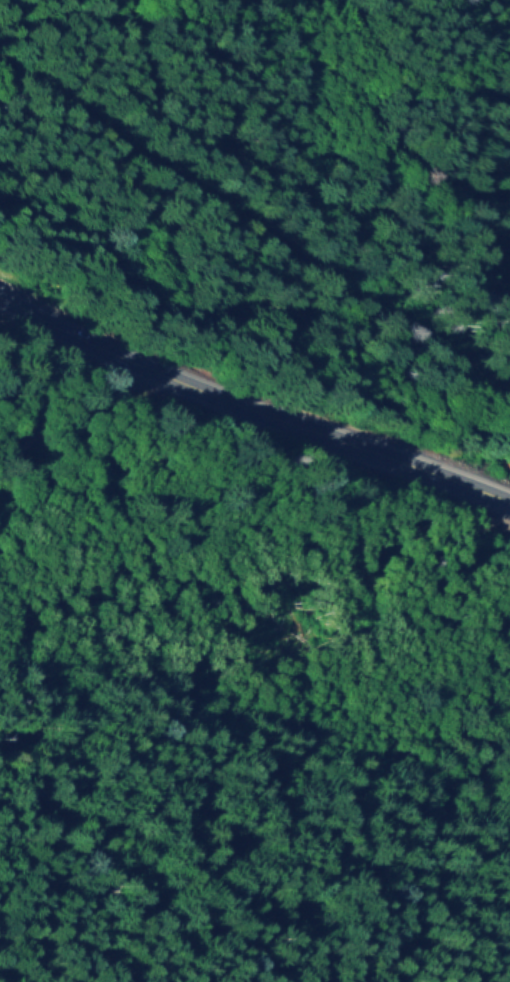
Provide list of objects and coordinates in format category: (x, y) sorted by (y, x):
road: (24, 396)
road: (104, 409)
road: (250, 409)
road: (24, 462)

